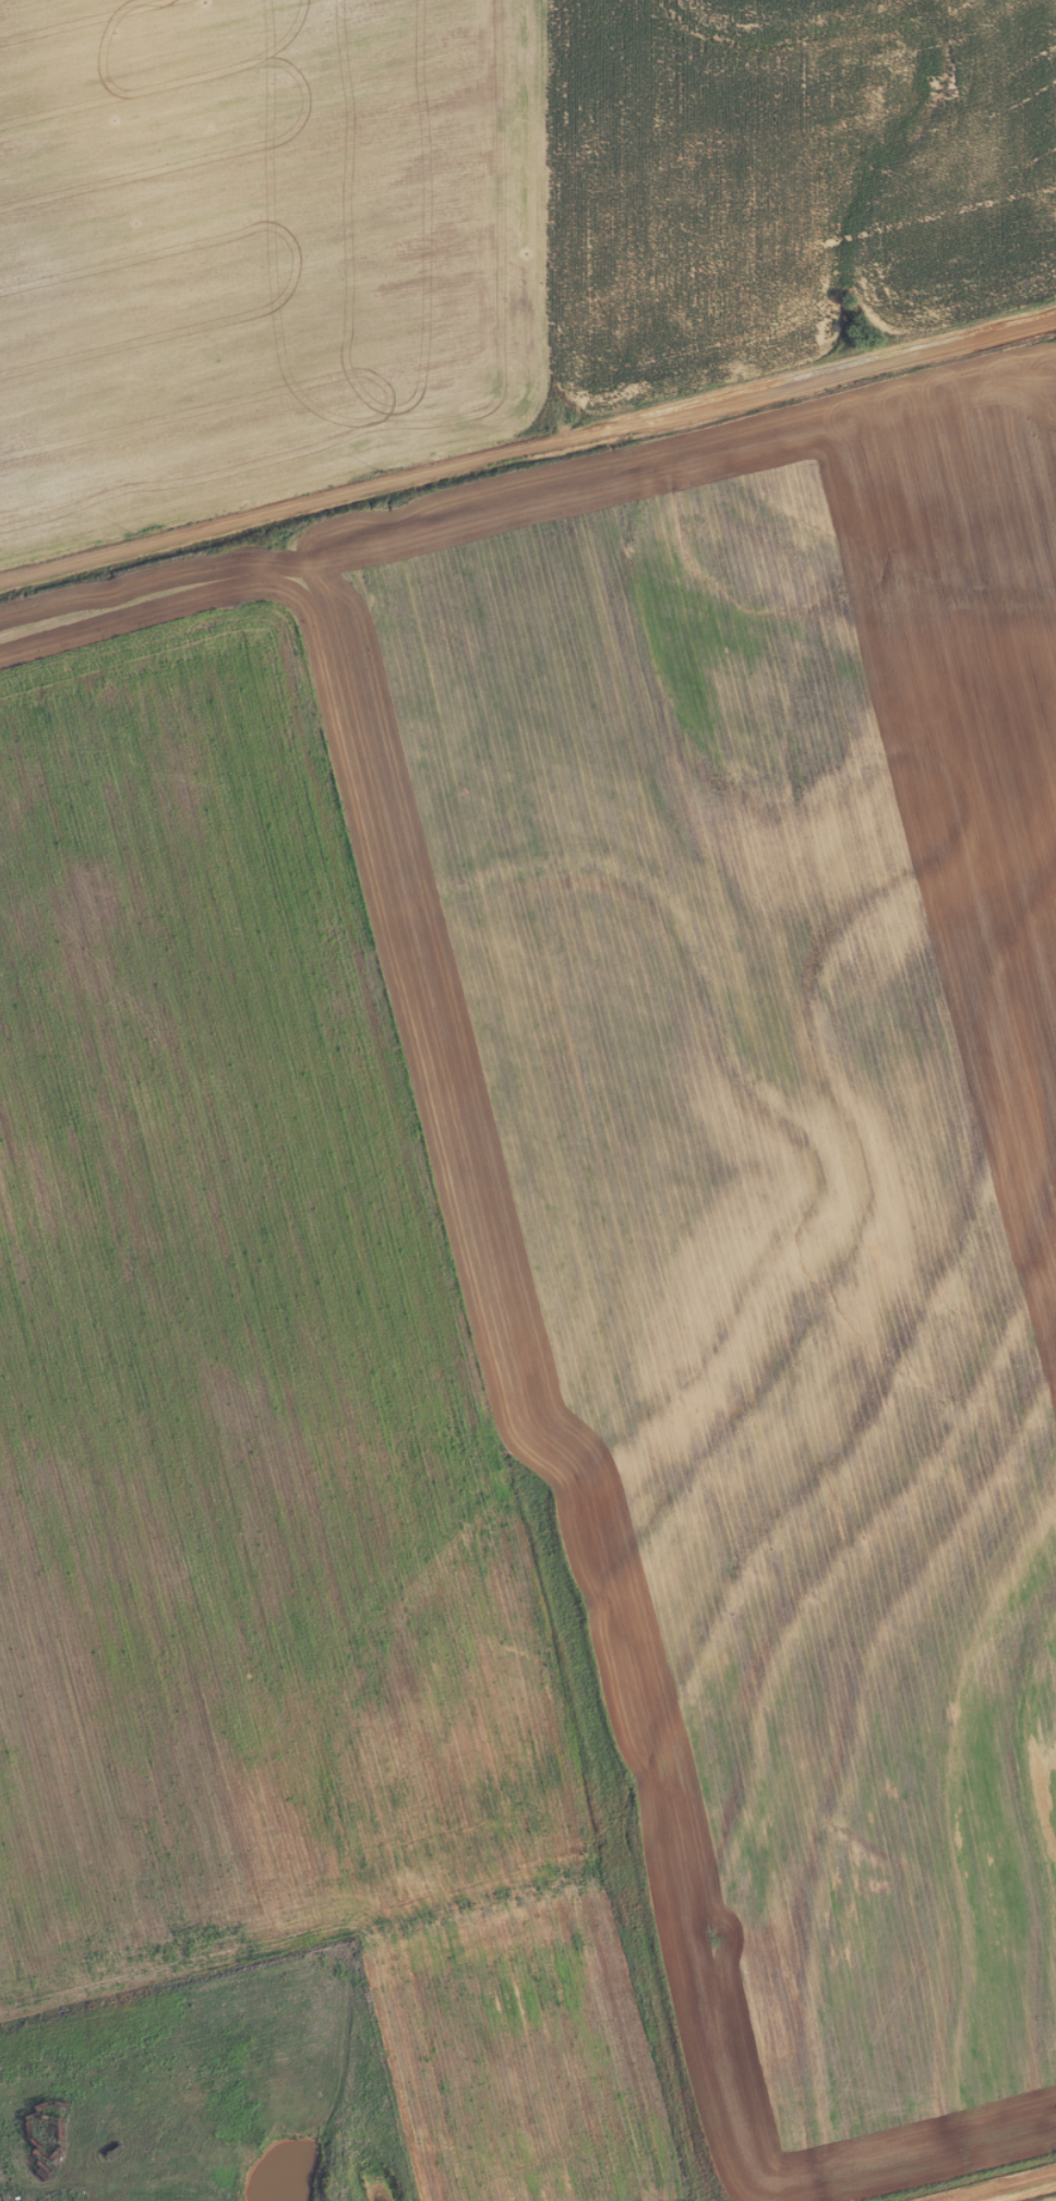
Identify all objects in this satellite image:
road: (528, 441)
road: (987, 2184)

